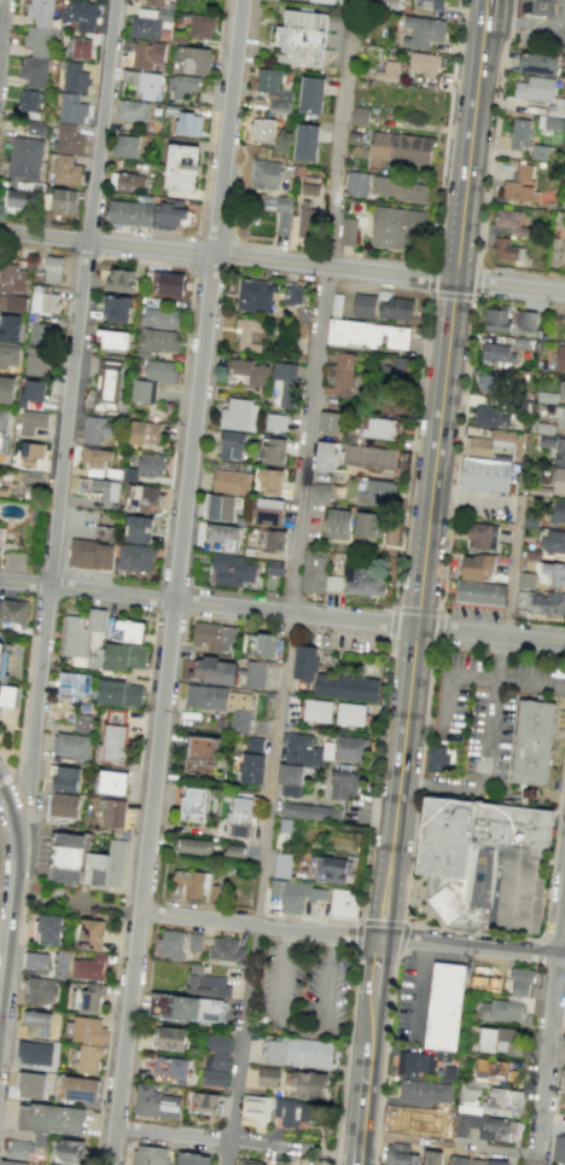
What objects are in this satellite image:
building: (321, 1)
building: (417, 1)
building: (152, 2)
building: (436, 2)
building: (389, 4)
building: (538, 6)
building: (81, 15)
road: (487, 19)
road: (536, 23)
building: (200, 27)
parking lot: (544, 29)
road: (2, 30)
building: (421, 31)
building: (299, 36)
building: (36, 44)
building: (81, 48)
building: (147, 54)
building: (192, 59)
building: (536, 62)
building: (424, 63)
building: (388, 71)
building: (74, 77)
building: (144, 83)
building: (182, 85)
building: (534, 87)
building: (273, 89)
building: (310, 94)
building: (28, 100)
building: (554, 105)
building: (70, 108)
building: (133, 109)
building: (357, 115)
road: (101, 120)
building: (186, 121)
building: (553, 122)
building: (34, 127)
building: (264, 131)
road: (445, 131)
building: (518, 131)
road: (493, 132)
building: (68, 139)
building: (305, 141)
building: (124, 145)
building: (400, 149)
building: (538, 150)
building: (23, 157)
building: (182, 167)
building: (64, 169)
building: (264, 173)
building: (126, 181)
building: (355, 182)
building: (519, 185)
building: (396, 187)
building: (18, 198)
building: (62, 199)
building: (147, 213)
building: (305, 220)
building: (282, 221)
building: (509, 221)
building: (395, 226)
building: (348, 231)
building: (506, 249)
building: (563, 250)
road: (282, 262)
building: (52, 268)
building: (120, 279)
building: (168, 283)
building: (12, 288)
building: (292, 294)
building: (254, 295)
road: (449, 296)
building: (43, 300)
building: (363, 305)
building: (395, 307)
building: (116, 308)
building: (495, 317)
building: (161, 318)
building: (525, 319)
building: (10, 328)
building: (564, 329)
building: (41, 332)
building: (249, 334)
building: (367, 334)
building: (112, 338)
building: (159, 340)
building: (496, 354)
building: (8, 355)
building: (560, 359)
building: (37, 361)
building: (394, 366)
building: (159, 370)
building: (251, 371)
building: (339, 376)
building: (488, 382)
building: (107, 384)
building: (284, 384)
building: (6, 388)
building: (561, 389)
building: (144, 390)
building: (33, 392)
road: (69, 412)
building: (238, 415)
building: (490, 417)
building: (560, 417)
building: (33, 421)
building: (275, 422)
building: (327, 422)
building: (379, 428)
building: (4, 429)
building: (95, 429)
building: (145, 431)
building: (231, 445)
building: (478, 446)
building: (273, 451)
road: (409, 451)
building: (559, 452)
building: (30, 454)
building: (325, 456)
building: (368, 456)
road: (456, 456)
building: (95, 457)
road: (308, 463)
building: (144, 466)
building: (31, 476)
building: (485, 476)
building: (229, 481)
building: (269, 481)
building: (558, 481)
building: (100, 488)
road: (436, 488)
building: (4, 489)
building: (319, 493)
building: (377, 493)
road: (478, 497)
building: (142, 498)
building: (219, 506)
building: (268, 511)
building: (558, 511)
building: (337, 523)
building: (368, 524)
building: (139, 528)
building: (104, 532)
building: (223, 535)
building: (482, 535)
building: (1, 538)
building: (273, 540)
building: (553, 540)
building: (91, 553)
building: (134, 557)
road: (179, 563)
building: (274, 567)
building: (477, 567)
building: (232, 569)
road: (514, 569)
building: (313, 573)
building: (553, 573)
building: (525, 579)
building: (363, 580)
road: (25, 582)
building: (332, 582)
building: (461, 596)
building: (478, 597)
building: (494, 598)
building: (541, 602)
building: (13, 609)
road: (415, 610)
road: (308, 614)
building: (126, 630)
building: (214, 636)
building: (76, 637)
building: (261, 644)
building: (2, 663)
building: (216, 670)
building: (254, 673)
building: (331, 678)
building: (74, 684)
road: (532, 686)
road: (39, 688)
building: (120, 692)
building: (222, 703)
parking lot: (489, 706)
building: (318, 709)
building: (350, 713)
road: (496, 714)
building: (82, 721)
building: (115, 735)
building: (254, 743)
building: (70, 746)
building: (538, 746)
building: (324, 749)
building: (200, 754)
building: (436, 758)
building: (251, 767)
road: (22, 771)
road: (6, 778)
building: (65, 778)
building: (290, 779)
building: (112, 782)
building: (345, 784)
road: (447, 787)
road: (497, 792)
building: (193, 804)
road: (513, 804)
building: (60, 805)
building: (309, 811)
road: (560, 812)
building: (113, 813)
road: (11, 816)
road: (368, 830)
building: (192, 845)
road: (0, 858)
building: (65, 858)
building: (281, 864)
building: (485, 864)
building: (105, 865)
building: (330, 868)
road: (123, 886)
road: (404, 888)
building: (215, 893)
building: (296, 894)
road: (425, 894)
building: (343, 903)
road: (560, 917)
road: (385, 922)
building: (49, 929)
road: (10, 932)
road: (320, 932)
building: (91, 934)
building: (194, 941)
building: (170, 944)
building: (226, 950)
building: (36, 960)
building: (89, 967)
road: (379, 974)
building: (520, 981)
building: (208, 983)
building: (485, 983)
road: (1, 987)
road: (420, 989)
building: (40, 990)
parking lot: (301, 992)
building: (88, 997)
parking lot: (415, 998)
road: (353, 1005)
building: (187, 1007)
building: (447, 1007)
building: (499, 1009)
building: (36, 1022)
building: (88, 1030)
road: (299, 1031)
road: (244, 1033)
building: (169, 1038)
building: (497, 1039)
building: (34, 1053)
building: (298, 1053)
building: (88, 1059)
building: (217, 1059)
road: (383, 1059)
building: (415, 1062)
road: (546, 1062)
building: (171, 1070)
building: (494, 1070)
road: (369, 1072)
building: (268, 1077)
building: (563, 1078)
building: (30, 1084)
building: (309, 1084)
building: (77, 1088)
building: (426, 1090)
building: (501, 1100)
building: (156, 1102)
building: (205, 1102)
building: (255, 1109)
building: (292, 1112)
building: (480, 1115)
building: (51, 1118)
road: (220, 1138)
road: (449, 1144)
road: (113, 1146)
building: (17, 1148)
building: (558, 1148)
road: (361, 1149)
building: (69, 1150)
road: (229, 1153)
building: (400, 1154)
building: (148, 1155)
road: (342, 1157)
building: (192, 1158)
building: (431, 1158)
building: (472, 1160)
building: (250, 1161)
building: (278, 1161)
building: (12, 1163)

